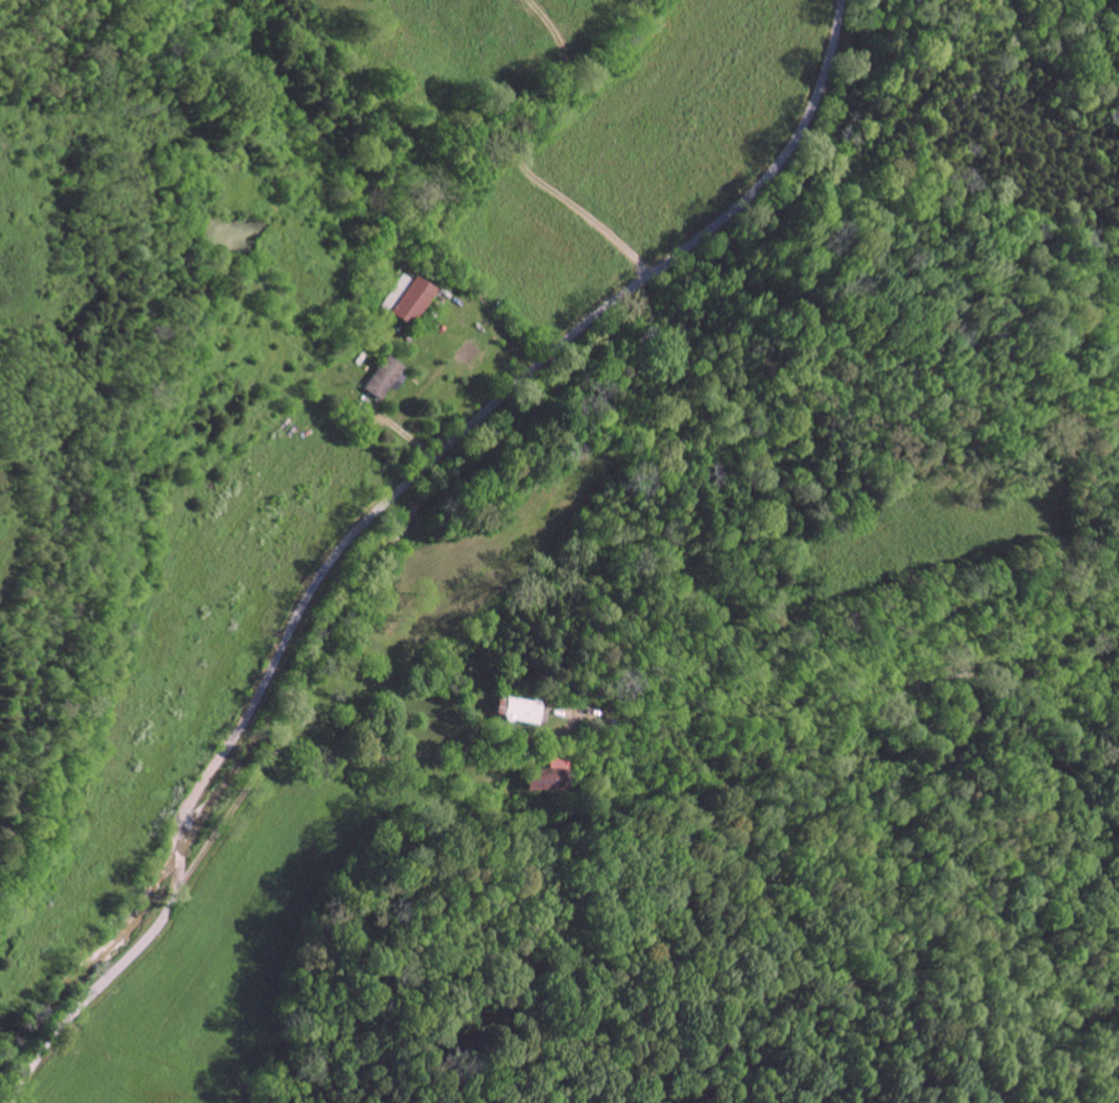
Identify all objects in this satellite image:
building: (405, 298)
building: (381, 377)
road: (375, 508)
building: (512, 710)
building: (544, 780)

